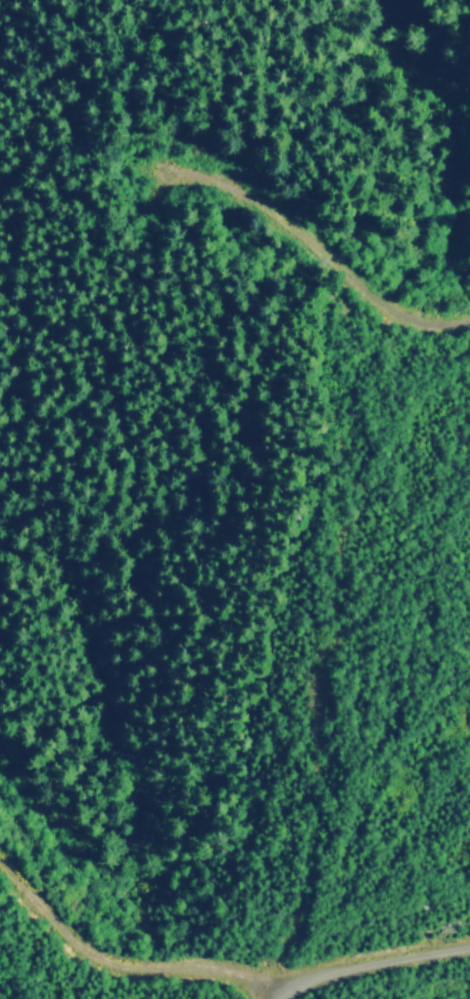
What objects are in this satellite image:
park: (451, 0)
road: (373, 965)

